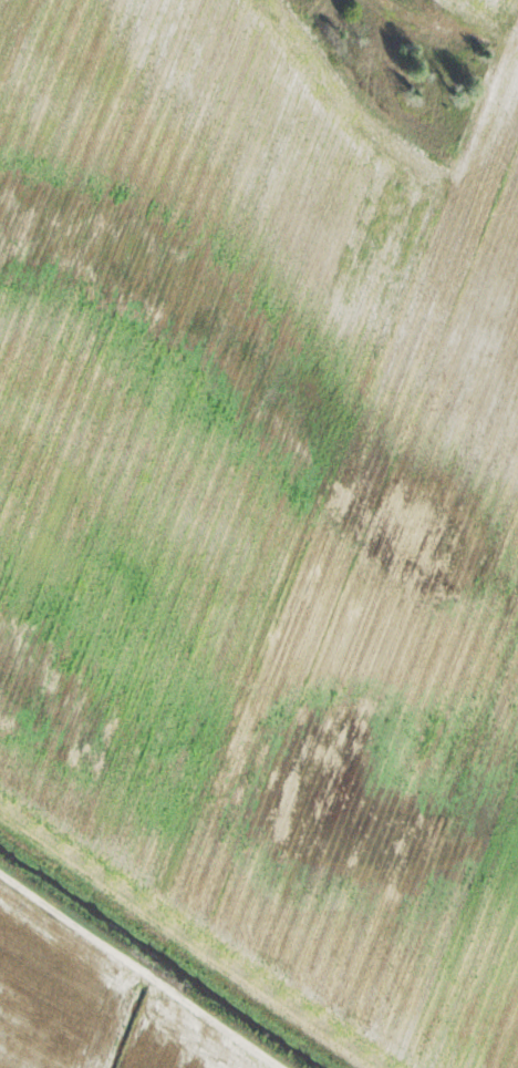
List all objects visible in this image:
road: (142, 971)

